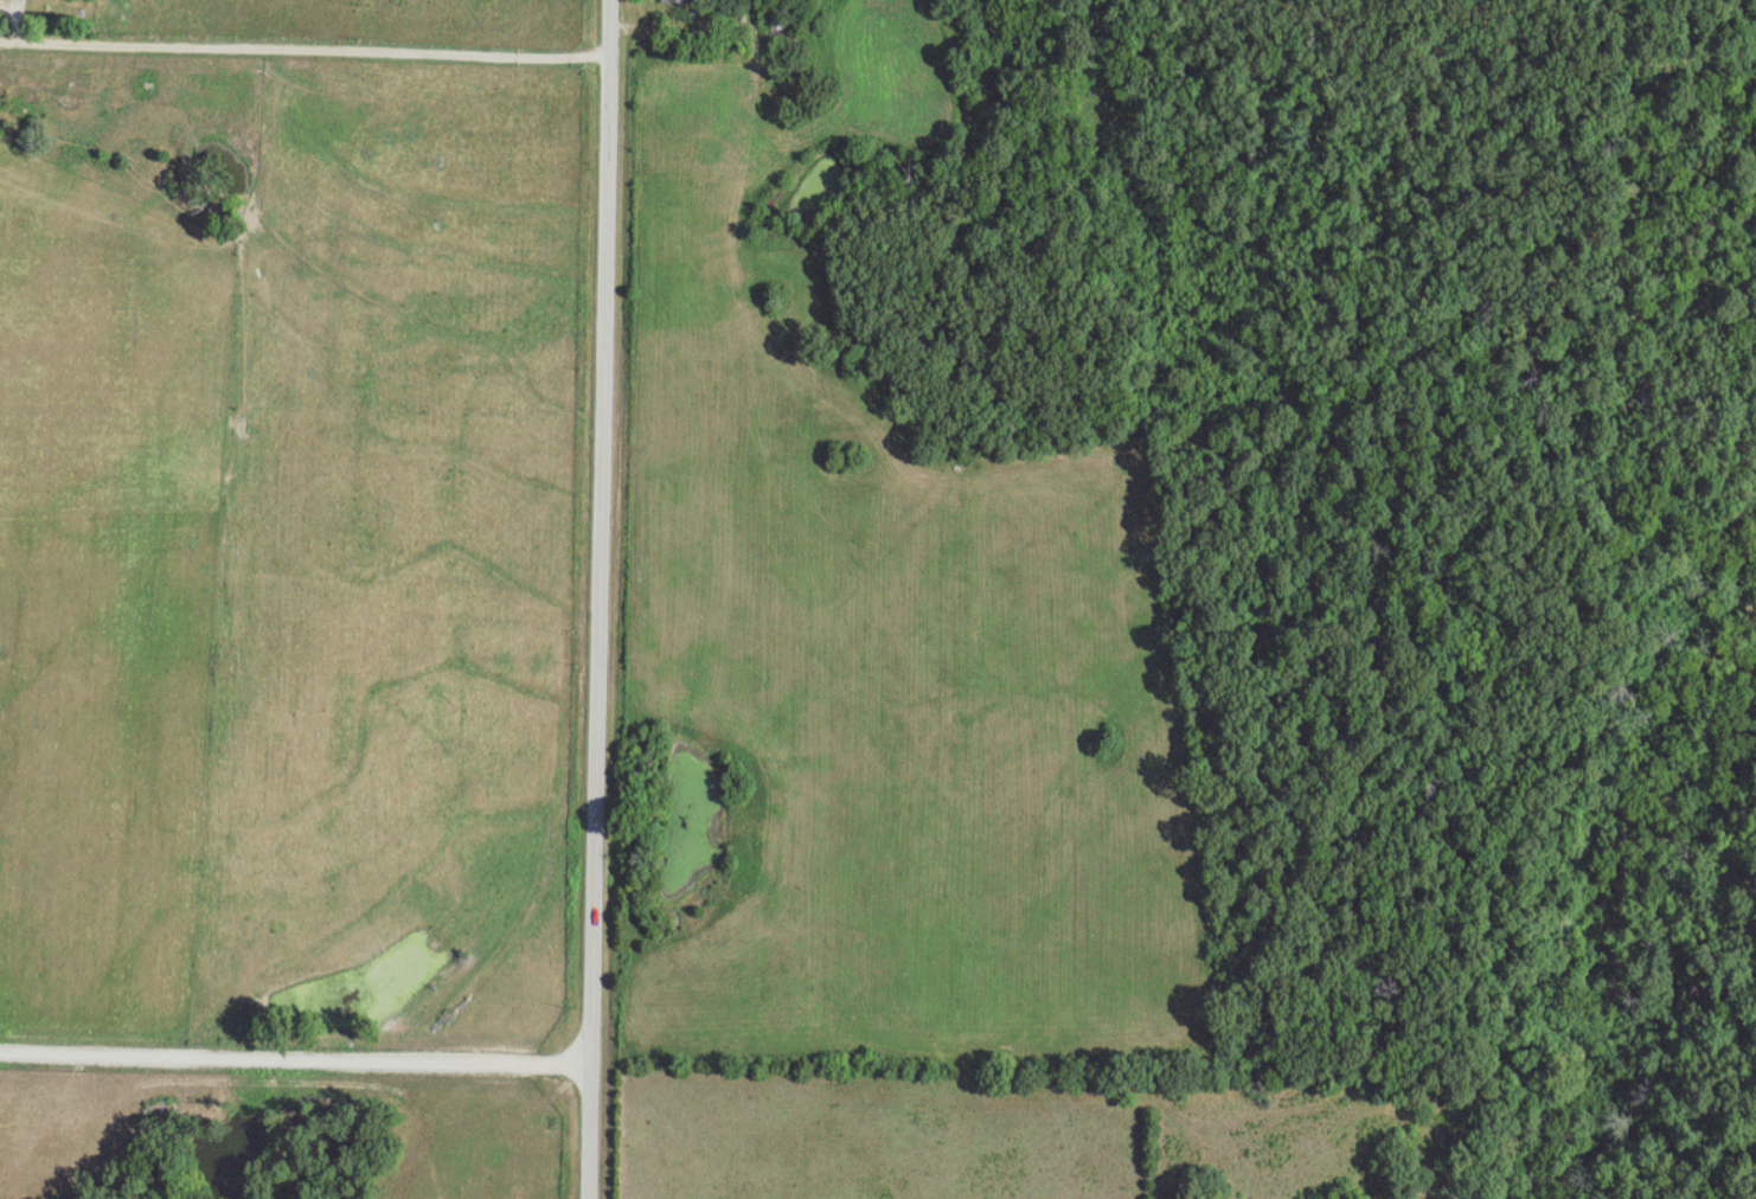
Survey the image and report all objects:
building: (679, 1)
road: (308, 49)
road: (607, 599)
road: (299, 1058)

